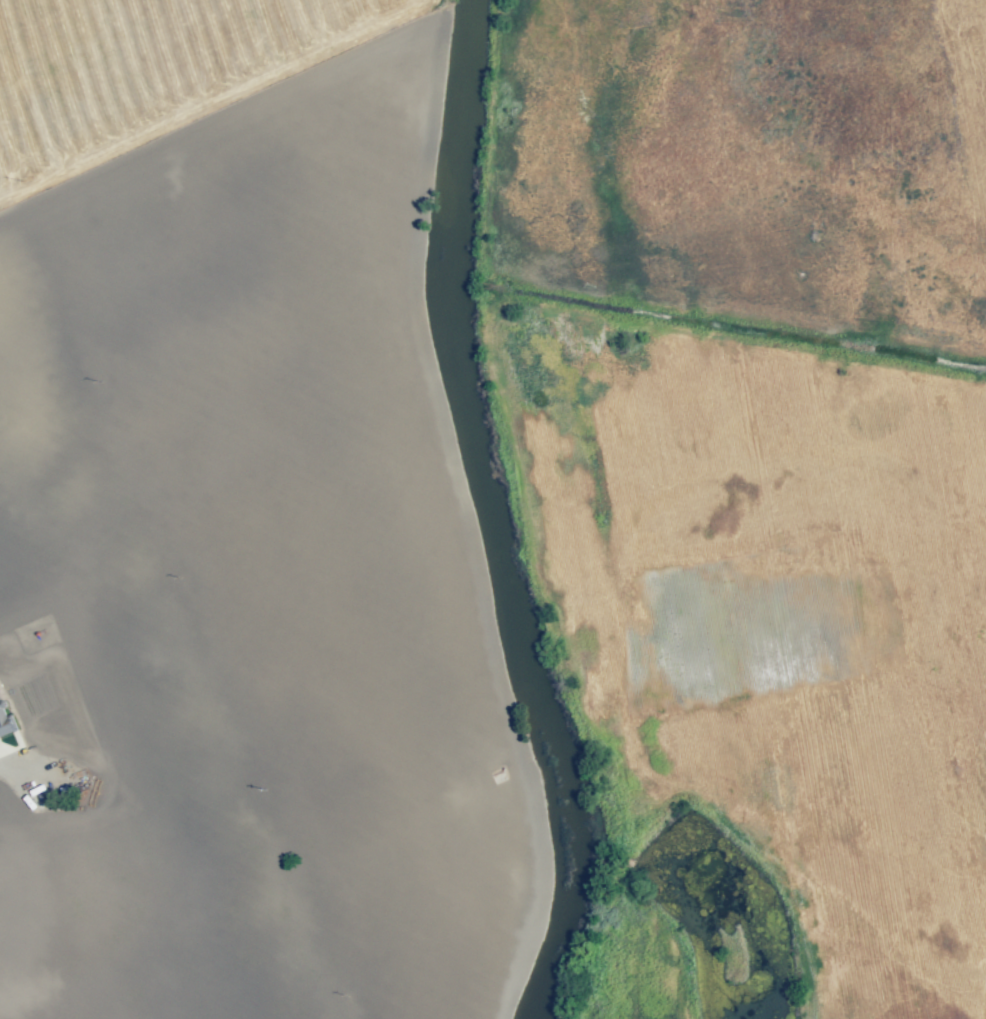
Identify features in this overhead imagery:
crop: (228, 520)
building: (5, 717)
crop: (510, 743)

